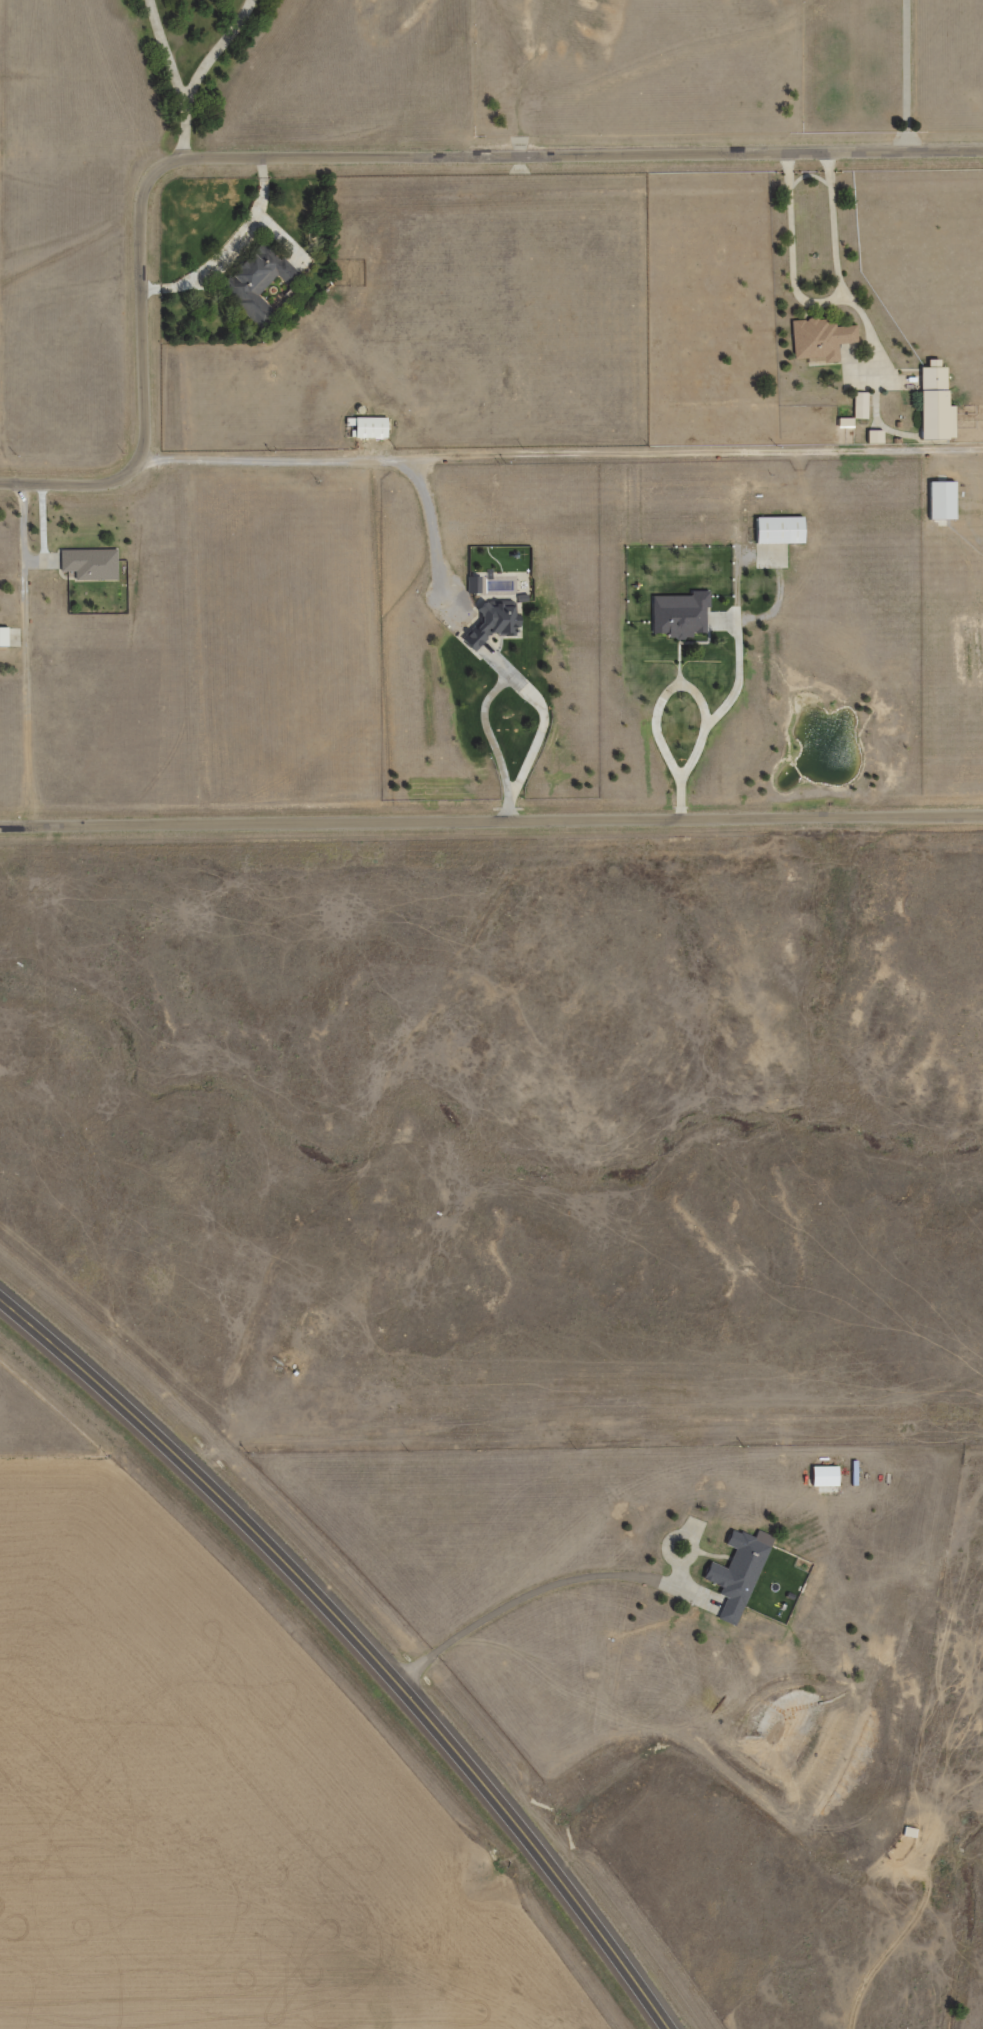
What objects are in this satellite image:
road: (165, 56)
road: (198, 75)
road: (908, 77)
road: (591, 156)
road: (279, 234)
road: (230, 246)
road: (792, 256)
building: (254, 279)
road: (856, 302)
building: (819, 339)
road: (149, 373)
building: (934, 404)
building: (860, 405)
building: (366, 428)
building: (875, 437)
road: (563, 460)
building: (940, 500)
building: (777, 530)
building: (89, 563)
building: (473, 584)
building: (681, 617)
building: (491, 621)
building: (3, 637)
road: (738, 643)
road: (484, 645)
road: (25, 658)
road: (698, 697)
road: (488, 732)
road: (491, 826)
building: (830, 1479)
building: (743, 1577)
road: (551, 1591)
road: (359, 1640)

